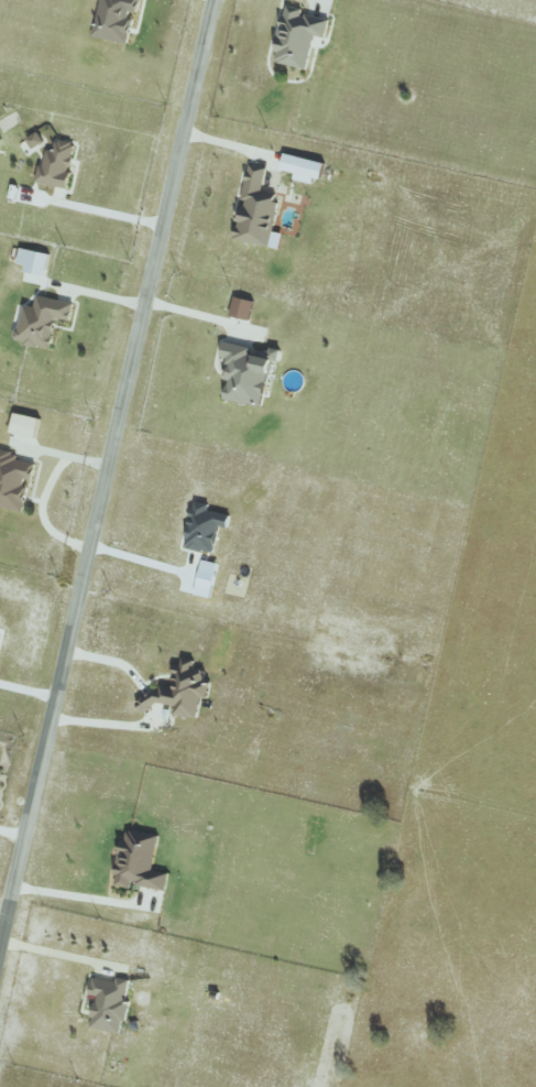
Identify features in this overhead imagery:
building: (114, 19)
building: (297, 37)
building: (0, 137)
building: (34, 139)
building: (57, 162)
building: (302, 167)
building: (258, 209)
road: (114, 220)
building: (33, 260)
building: (241, 307)
road: (196, 318)
building: (41, 320)
building: (247, 372)
road: (108, 478)
building: (12, 480)
building: (203, 530)
road: (147, 563)
building: (197, 572)
building: (179, 689)
road: (29, 691)
road: (109, 724)
road: (13, 829)
building: (139, 860)
road: (76, 896)
road: (4, 912)
road: (56, 949)
building: (109, 1003)

